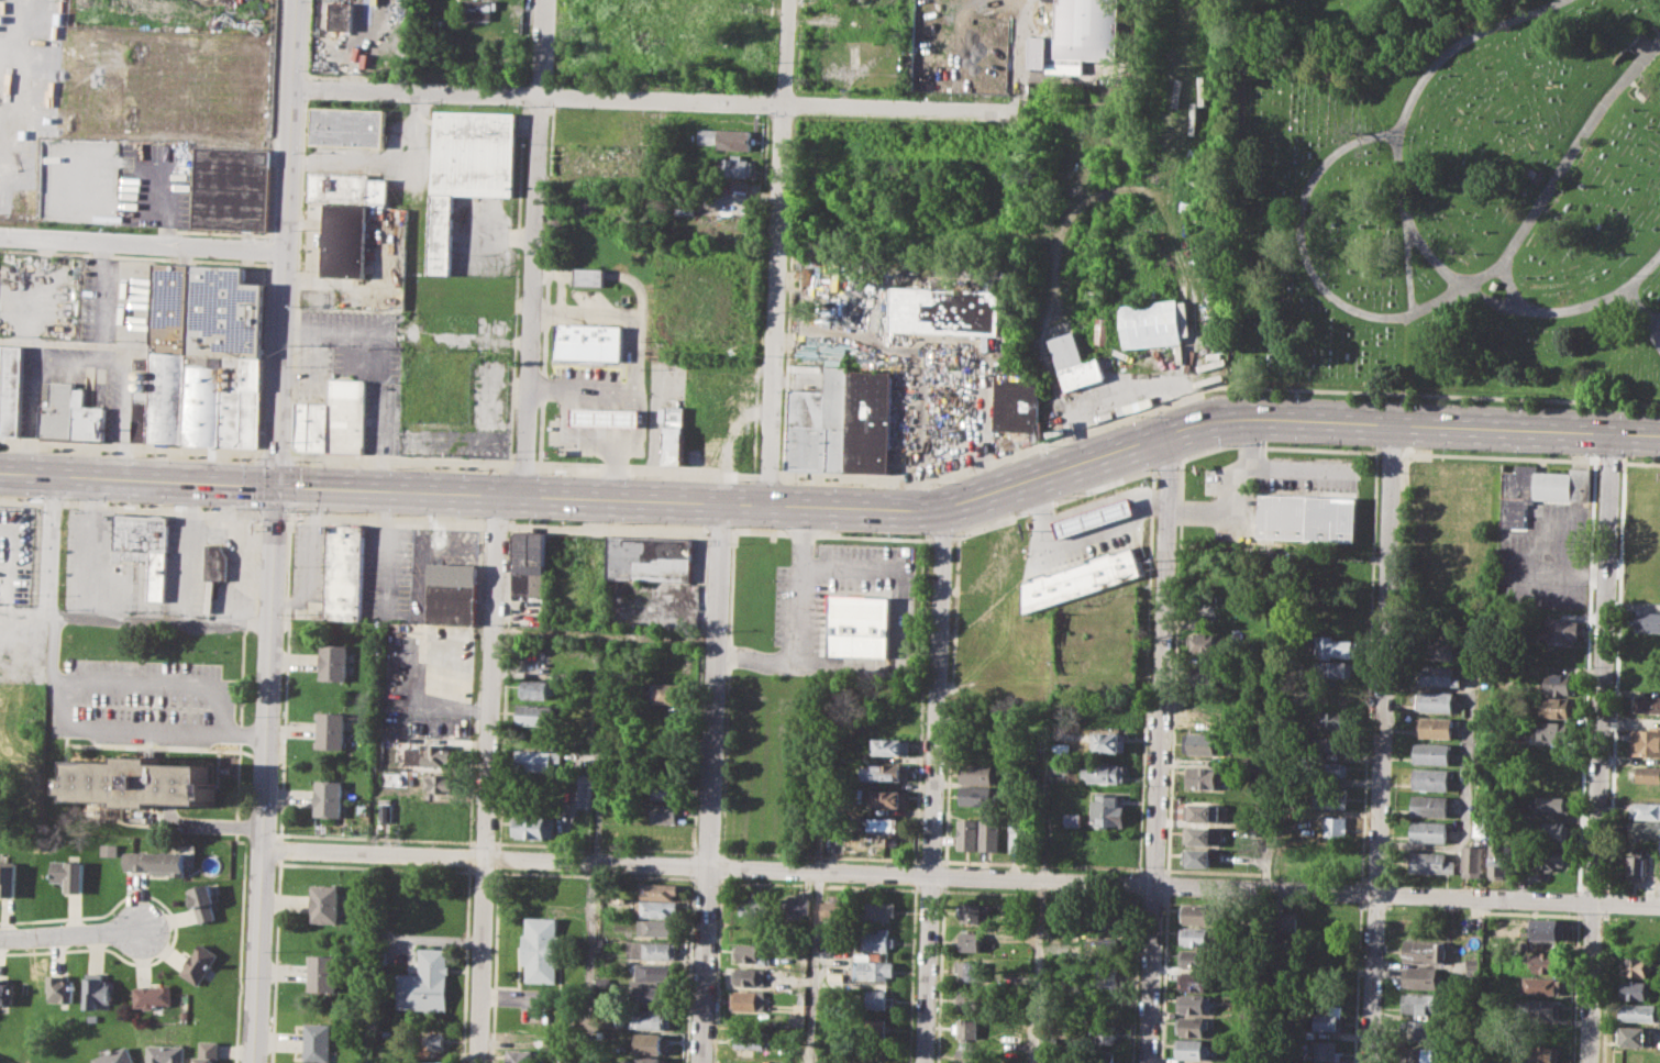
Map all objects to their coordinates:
building: (479, 9)
road: (1487, 13)
building: (347, 15)
building: (1076, 36)
road: (1021, 70)
road: (657, 106)
building: (347, 126)
building: (727, 137)
building: (468, 167)
building: (738, 167)
parking lot: (154, 184)
building: (229, 187)
building: (347, 187)
park: (1449, 201)
road: (168, 207)
road: (1408, 218)
parking lot: (483, 233)
road: (496, 234)
building: (347, 241)
road: (530, 244)
road: (142, 250)
road: (781, 250)
road: (1408, 261)
road: (552, 273)
building: (589, 276)
road: (635, 280)
road: (1508, 280)
road: (562, 291)
road: (1436, 298)
building: (208, 309)
building: (945, 310)
road: (1640, 315)
building: (3, 323)
building: (1150, 323)
road: (1194, 326)
building: (1099, 331)
parking lot: (106, 341)
road: (1659, 341)
building: (589, 342)
parking lot: (908, 347)
road: (78, 350)
road: (638, 350)
road: (124, 351)
road: (385, 359)
building: (1073, 361)
parking lot: (357, 365)
parking lot: (588, 375)
building: (10, 388)
building: (161, 395)
building: (222, 399)
building: (1017, 400)
road: (1103, 400)
building: (56, 410)
building: (347, 414)
building: (606, 417)
gas station: (606, 417)
building: (85, 418)
building: (868, 422)
building: (820, 423)
building: (302, 425)
building: (319, 427)
building: (675, 432)
road: (601, 438)
road: (1277, 446)
road: (1391, 452)
road: (1499, 456)
road: (1608, 461)
road: (1639, 462)
road: (615, 465)
road: (1166, 465)
traffic signals: (276, 483)
road: (1233, 487)
building: (1540, 490)
road: (20, 501)
road: (51, 502)
road: (837, 502)
road: (1053, 502)
road: (161, 507)
road: (274, 513)
building: (1092, 517)
road: (386, 518)
parking lot: (1120, 518)
building: (1307, 518)
road: (496, 522)
building: (1071, 523)
road: (607, 525)
road: (719, 530)
road: (274, 531)
road: (230, 534)
road: (830, 535)
road: (941, 538)
road: (85, 544)
building: (145, 549)
road: (186, 549)
parking lot: (1546, 558)
building: (529, 563)
building: (653, 563)
road: (47, 566)
road: (853, 571)
road: (1554, 571)
building: (213, 573)
building: (344, 573)
building: (1078, 578)
parking lot: (832, 588)
building: (452, 593)
road: (23, 614)
building: (997, 616)
road: (798, 619)
road: (158, 620)
building: (1648, 620)
building: (859, 625)
building: (1561, 629)
building: (1205, 645)
building: (1332, 646)
building: (1438, 649)
building: (334, 663)
building: (1335, 668)
building: (1437, 676)
road: (1615, 676)
road: (156, 678)
road: (285, 678)
building: (1561, 683)
road: (505, 685)
building: (535, 689)
road: (699, 691)
building: (667, 694)
road: (727, 694)
building: (1435, 701)
building: (1647, 702)
building: (1107, 705)
building: (1559, 708)
building: (536, 716)
road: (135, 722)
building: (1434, 728)
building: (331, 730)
building: (1556, 731)
road: (1380, 741)
building: (1108, 742)
building: (1204, 742)
building: (1646, 742)
building: (1330, 744)
building: (890, 746)
road: (1158, 746)
road: (1598, 746)
building: (1061, 749)
building: (1431, 754)
building: (431, 759)
building: (536, 760)
building: (1061, 766)
building: (1331, 769)
building: (885, 772)
building: (1105, 772)
building: (976, 773)
building: (1648, 774)
road: (487, 776)
building: (1203, 776)
building: (1431, 778)
road: (710, 779)
building: (137, 783)
building: (444, 784)
road: (934, 785)
building: (664, 789)
building: (1646, 791)
building: (584, 794)
building: (975, 795)
building: (1330, 797)
building: (329, 798)
building: (888, 798)
road: (1463, 801)
building: (1552, 804)
building: (1429, 806)
building: (385, 809)
building: (1107, 809)
building: (1645, 810)
building: (1198, 811)
building: (663, 813)
building: (438, 816)
road: (220, 819)
building: (1073, 820)
building: (1335, 822)
building: (885, 824)
building: (532, 826)
building: (1645, 829)
building: (1556, 830)
building: (1428, 831)
building: (991, 832)
building: (967, 833)
building: (1019, 835)
building: (1198, 835)
building: (883, 843)
road: (595, 844)
building: (108, 846)
road: (279, 848)
road: (498, 856)
building: (1548, 856)
building: (1196, 857)
building: (1472, 860)
building: (1497, 860)
building: (156, 862)
building: (1637, 862)
building: (1429, 863)
road: (693, 864)
road: (721, 866)
building: (68, 874)
road: (961, 877)
building: (8, 879)
road: (1579, 887)
road: (1593, 888)
building: (659, 889)
building: (203, 900)
road: (1578, 900)
building: (324, 904)
building: (753, 906)
building: (793, 907)
building: (656, 908)
building: (835, 910)
building: (877, 910)
building: (975, 912)
building: (1196, 912)
building: (1113, 916)
building: (1284, 921)
building: (1016, 924)
building: (655, 928)
building: (1547, 929)
road: (70, 933)
building: (1195, 935)
building: (877, 940)
building: (974, 942)
building: (541, 950)
building: (652, 950)
building: (1425, 951)
building: (753, 954)
building: (1196, 959)
road: (275, 960)
building: (199, 962)
building: (1547, 962)
road: (493, 964)
building: (1472, 965)
building: (1638, 966)
road: (816, 967)
road: (688, 968)
road: (716, 970)
building: (872, 970)
building: (973, 972)
road: (1037, 972)
building: (322, 973)
building: (651, 973)
building: (1106, 975)
building: (754, 976)
building: (835, 976)
building: (1421, 976)
building: (424, 982)
building: (1195, 982)
building: (1546, 985)
road: (1574, 987)
building: (60, 988)
building: (1636, 989)
building: (97, 990)
building: (5, 993)
building: (152, 995)
building: (651, 996)
building: (876, 998)
building: (751, 999)
building: (972, 999)
building: (1193, 1004)
building: (1419, 1004)
building: (1546, 1009)
building: (1639, 1012)
building: (649, 1018)
building: (1326, 1021)
building: (1193, 1026)
building: (875, 1027)
building: (969, 1029)
building: (1418, 1030)
building: (1100, 1033)
building: (1635, 1036)
building: (750, 1038)
building: (435, 1040)
building: (650, 1041)
building: (317, 1042)
building: (1192, 1048)
building: (1327, 1050)
building: (208, 1051)
building: (167, 1053)
building: (964, 1054)
building: (1541, 1054)
building: (117, 1055)
building: (1417, 1055)
building: (523, 1056)
building: (649, 1059)
building: (428, 1062)
building: (1186, 1062)

